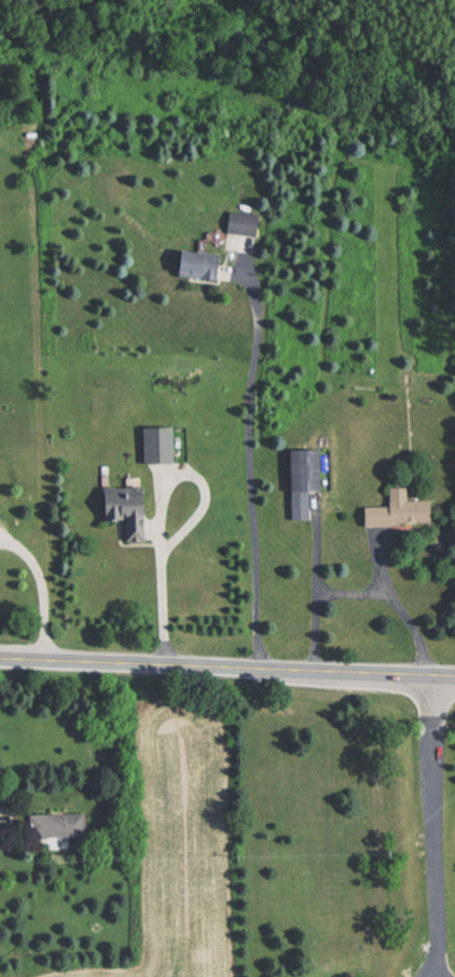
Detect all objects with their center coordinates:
road: (454, 0)
building: (239, 223)
building: (191, 263)
building: (153, 444)
road: (251, 473)
building: (297, 481)
building: (120, 507)
road: (160, 510)
building: (394, 510)
road: (42, 589)
road: (313, 592)
road: (352, 592)
road: (401, 610)
road: (227, 666)
road: (435, 821)
building: (56, 826)
road: (431, 972)
road: (438, 972)

